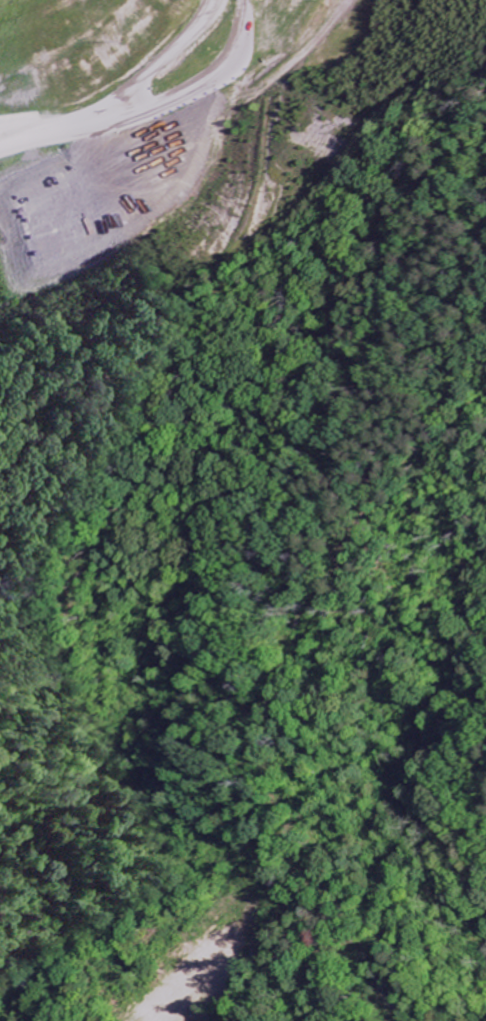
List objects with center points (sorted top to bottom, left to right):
road: (120, 98)
landfill: (163, 126)

